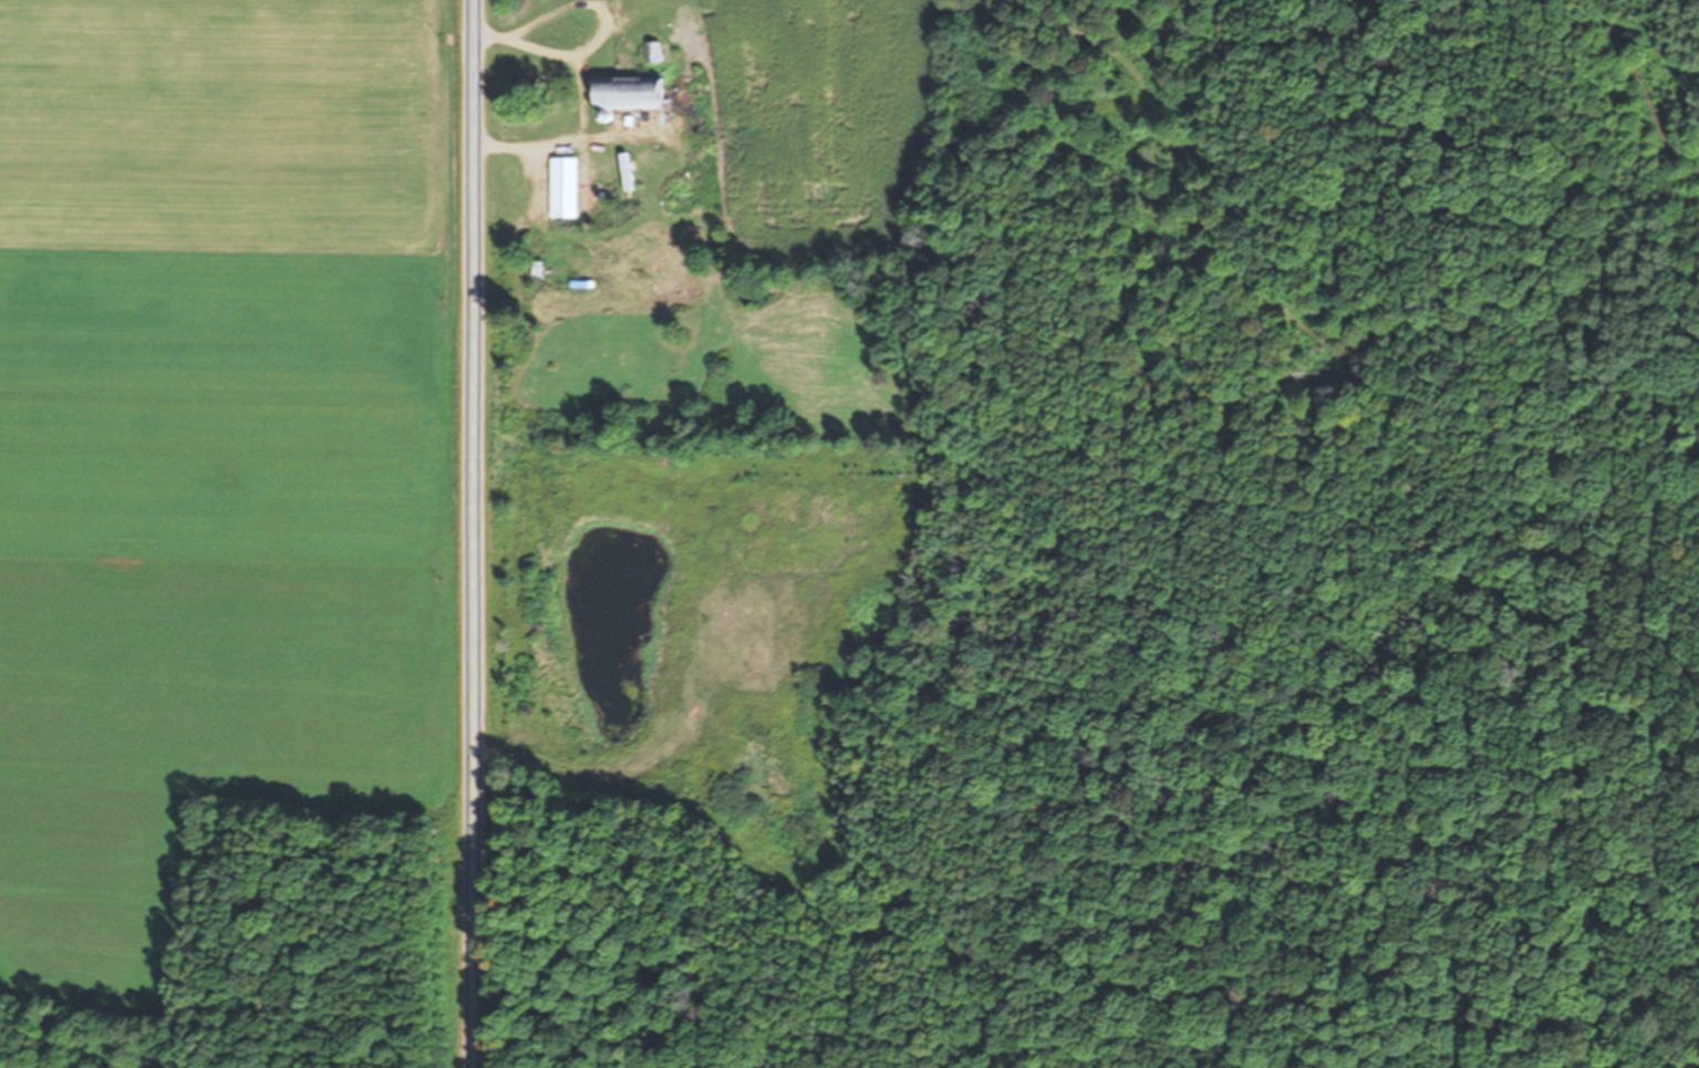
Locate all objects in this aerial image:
building: (654, 52)
building: (634, 93)
building: (567, 187)
crop: (815, 217)
crop: (219, 454)
road: (473, 533)

